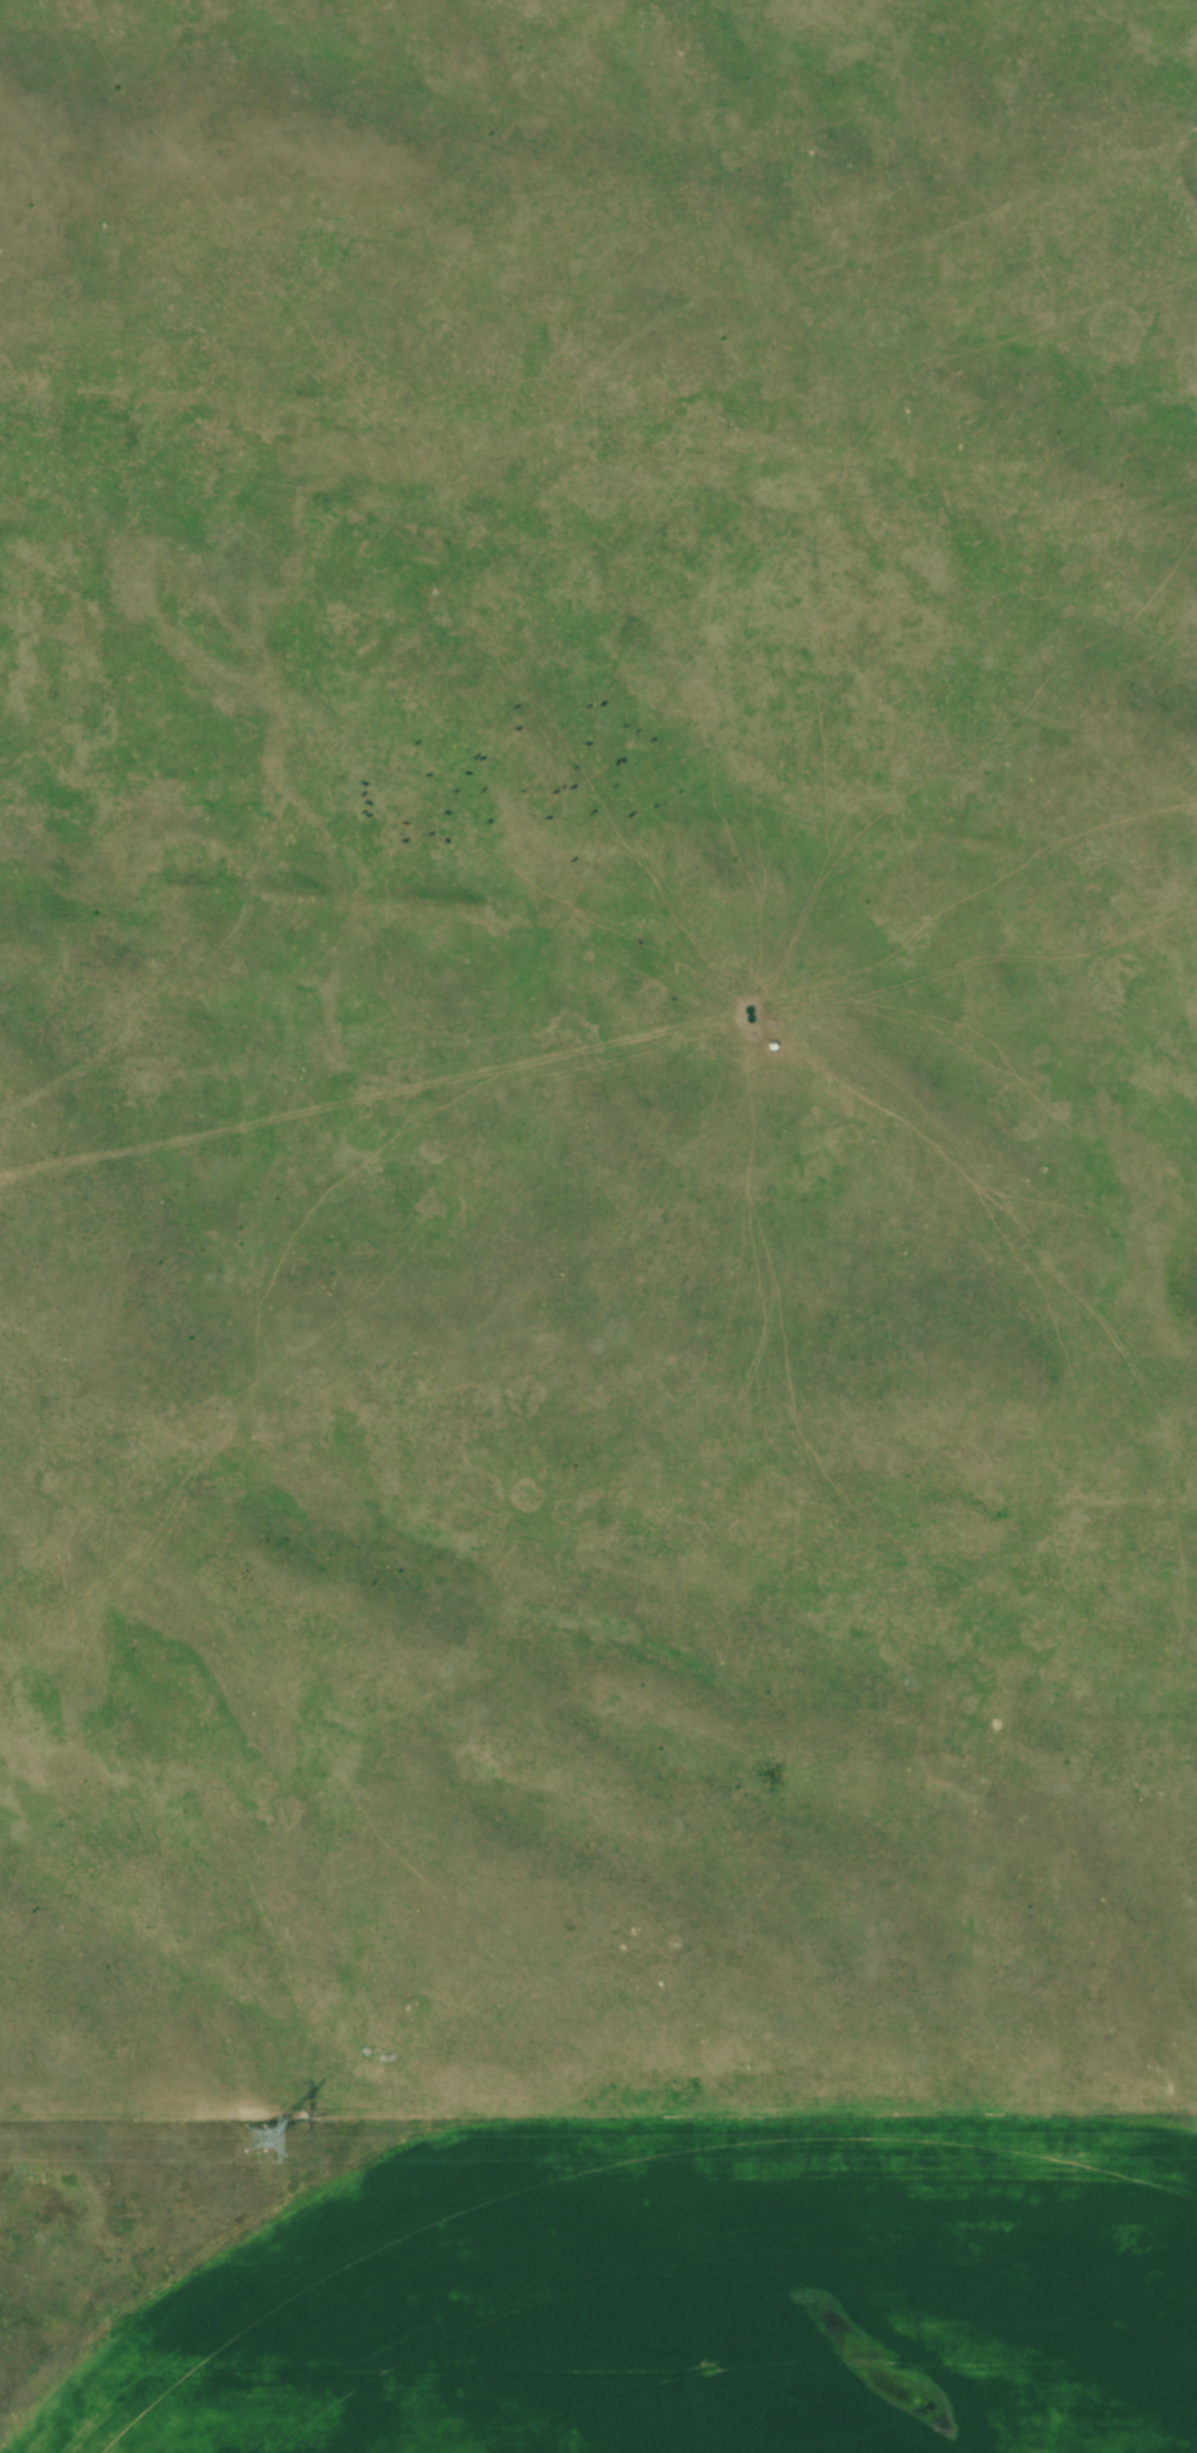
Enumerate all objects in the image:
power tower: (253, 2139)

